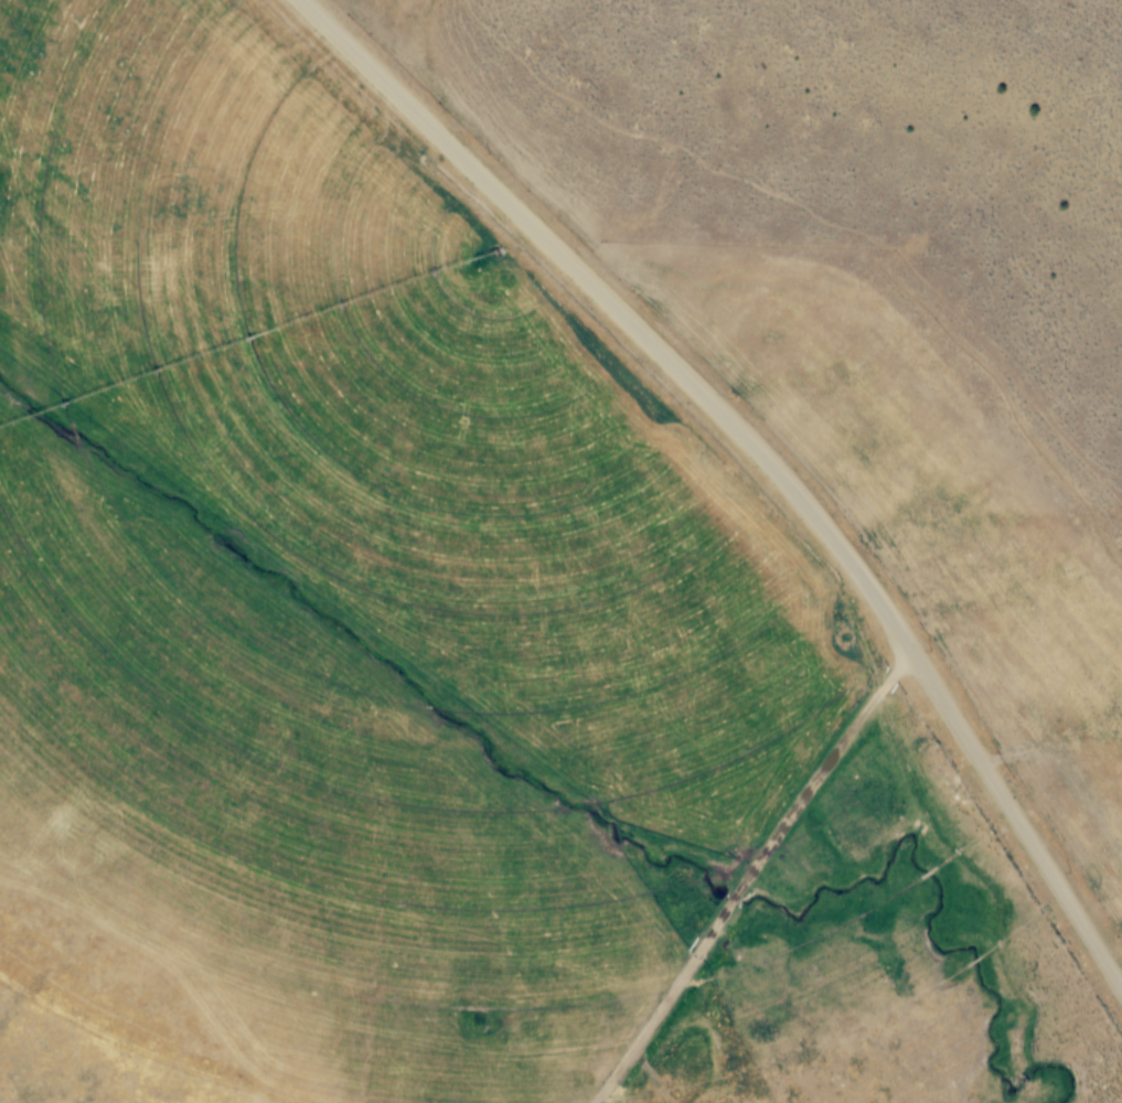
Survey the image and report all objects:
road: (762, 452)
road: (750, 877)

